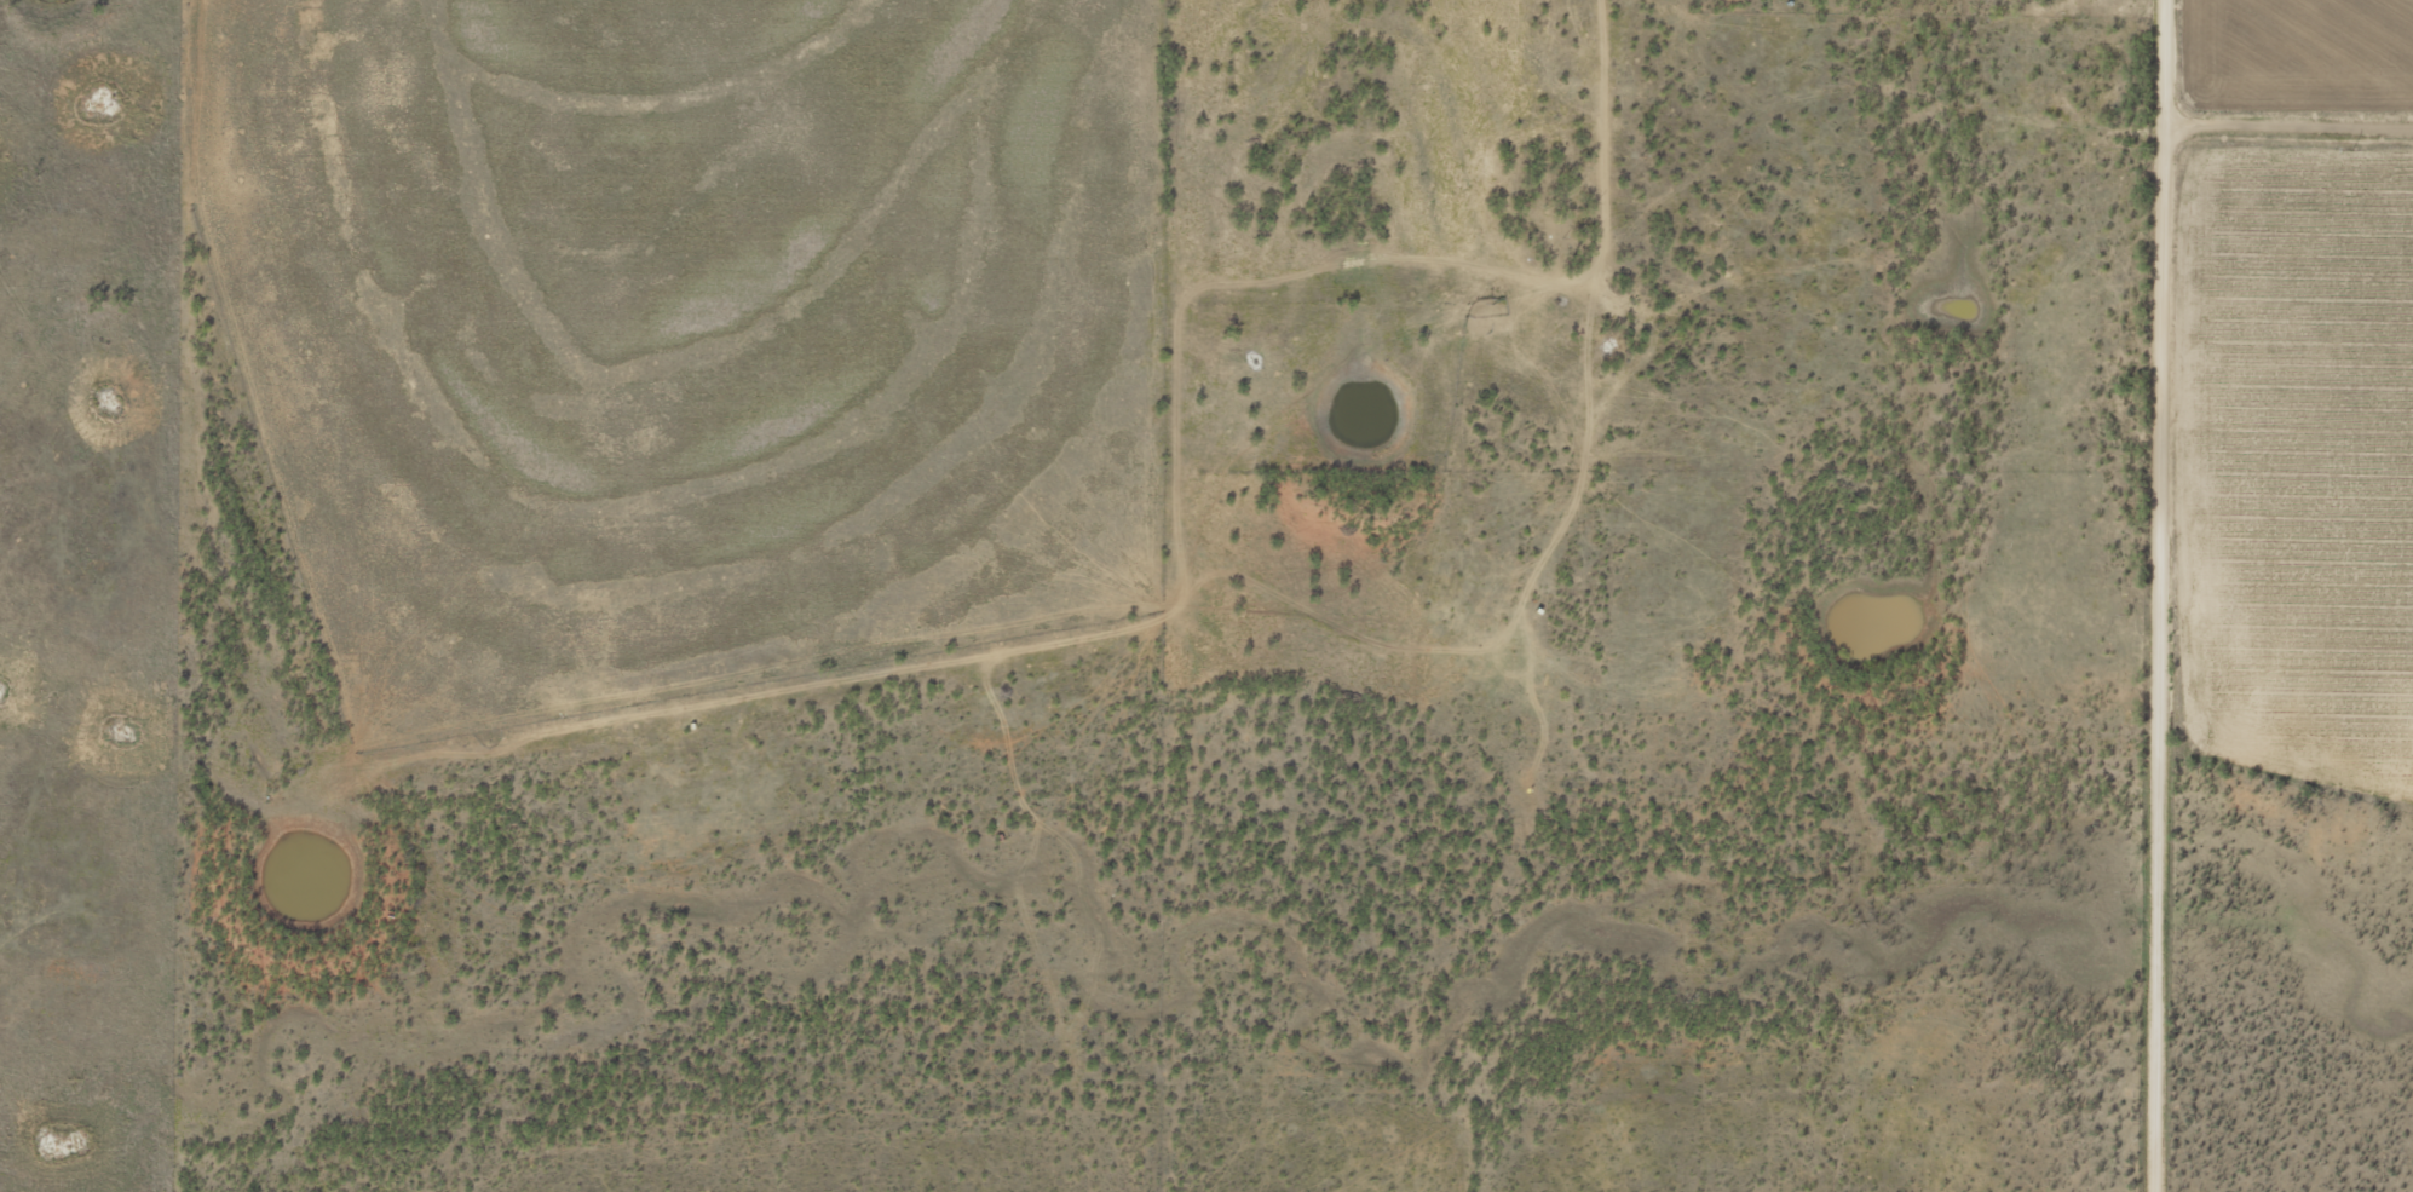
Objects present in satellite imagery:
road: (2286, 128)
road: (2175, 595)

